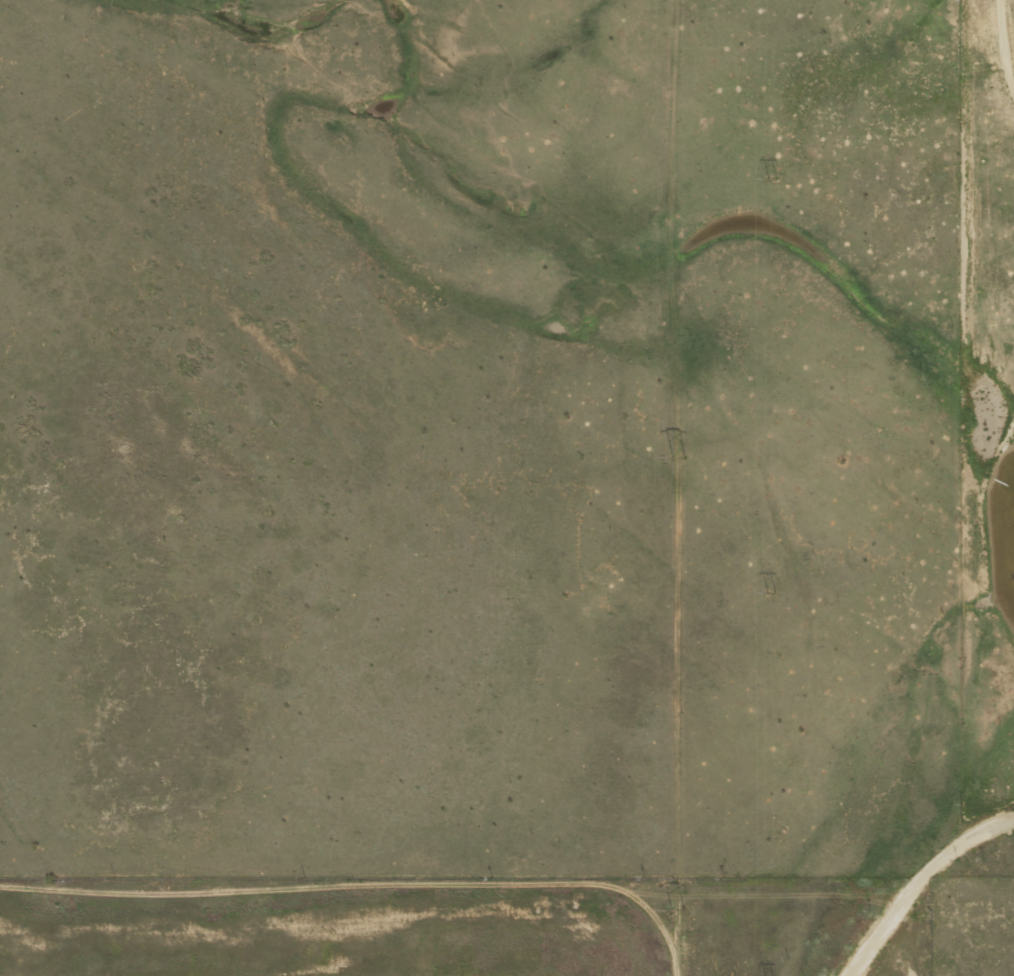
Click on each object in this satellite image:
power tower: (766, 173)
road: (733, 177)
power tower: (671, 459)
power tower: (765, 584)
road: (201, 738)
power tower: (671, 910)
power plant: (464, 926)

